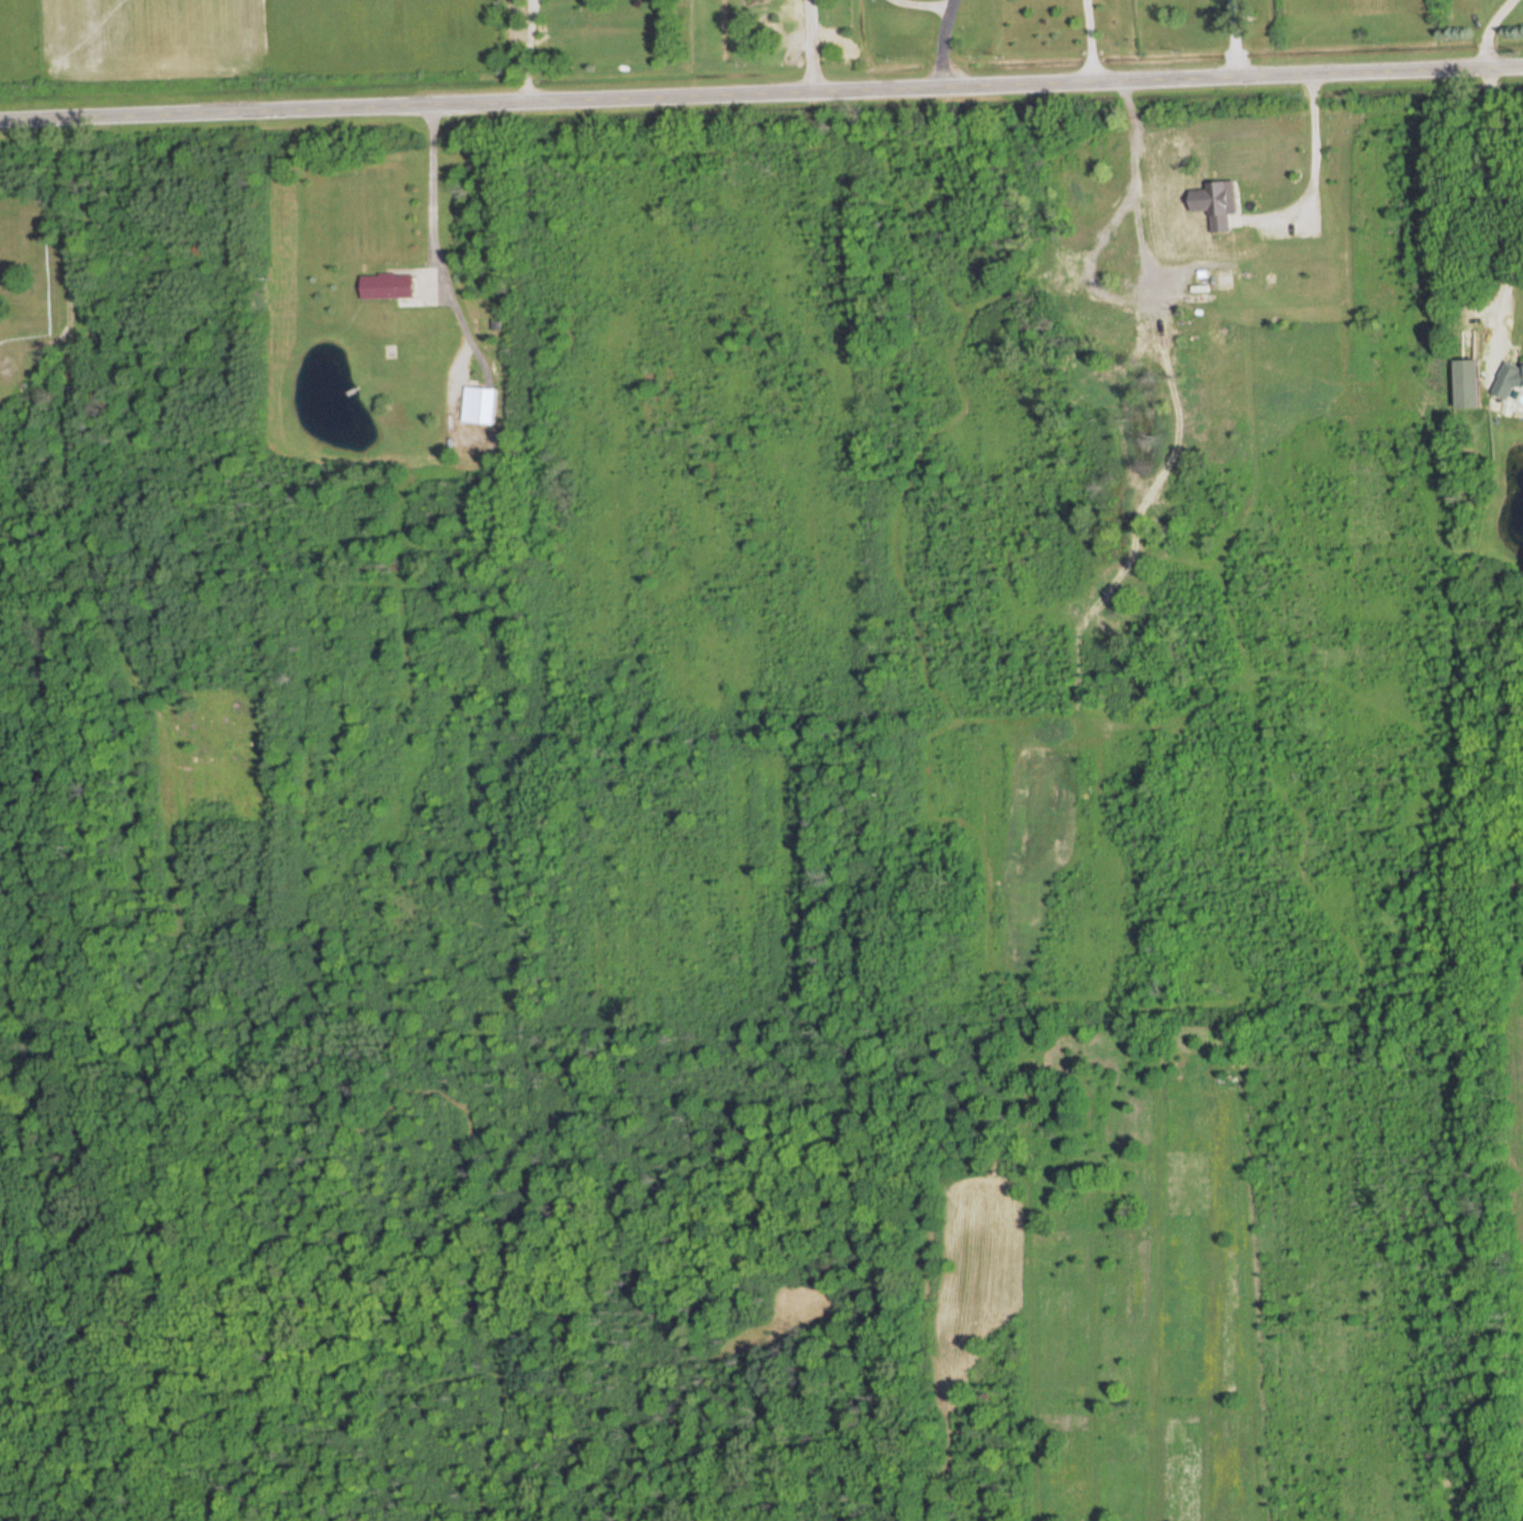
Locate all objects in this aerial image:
road: (1484, 31)
road: (1234, 39)
road: (1089, 41)
road: (942, 43)
road: (810, 47)
road: (527, 51)
road: (761, 95)
road: (1309, 168)
road: (434, 205)
building: (1221, 206)
road: (1508, 252)
road: (66, 262)
building: (389, 286)
building: (1252, 341)
building: (1510, 378)
building: (1468, 385)
building: (482, 405)

